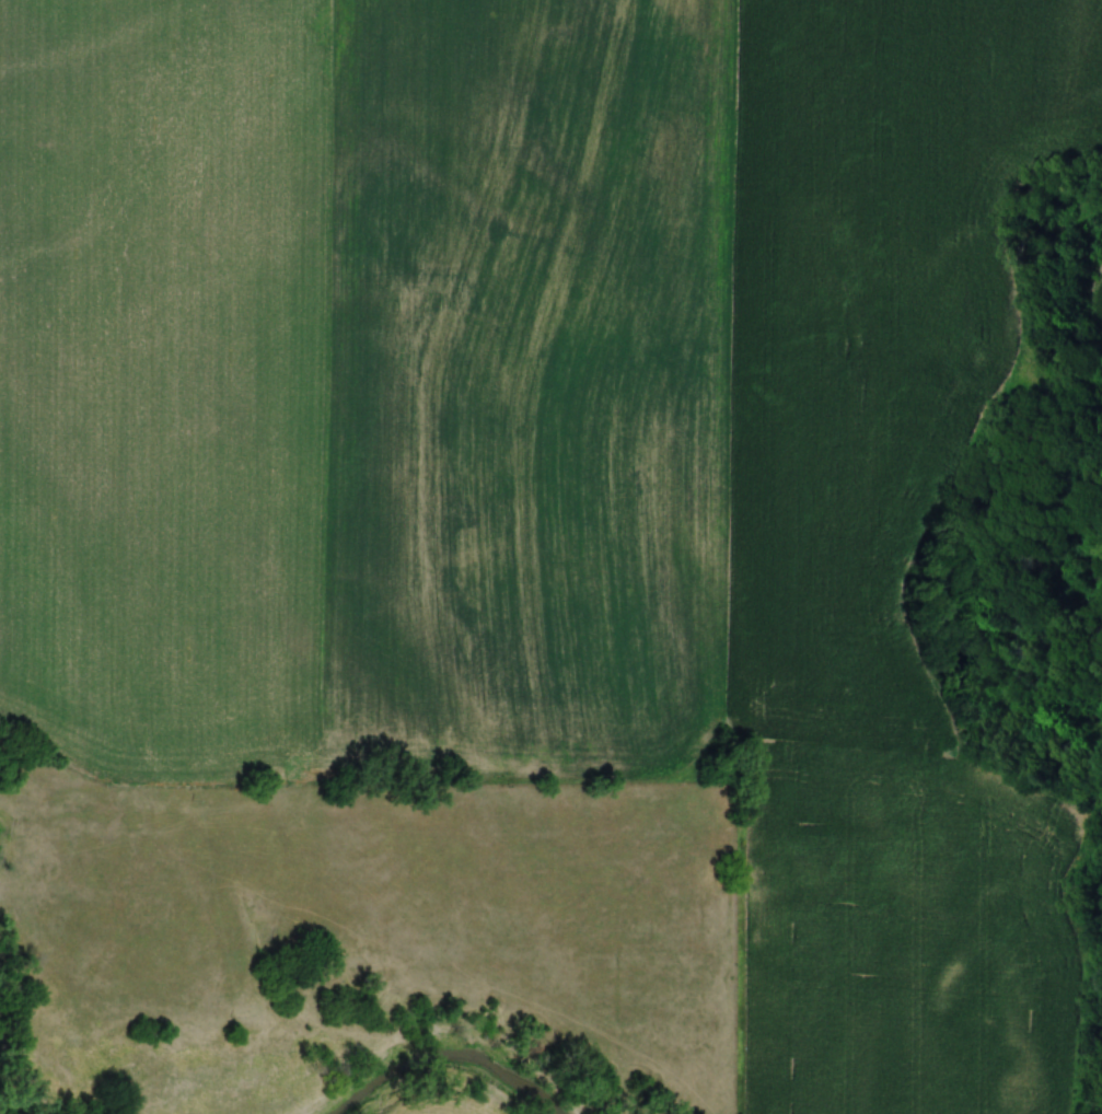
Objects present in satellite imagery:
river: (440, 1063)

